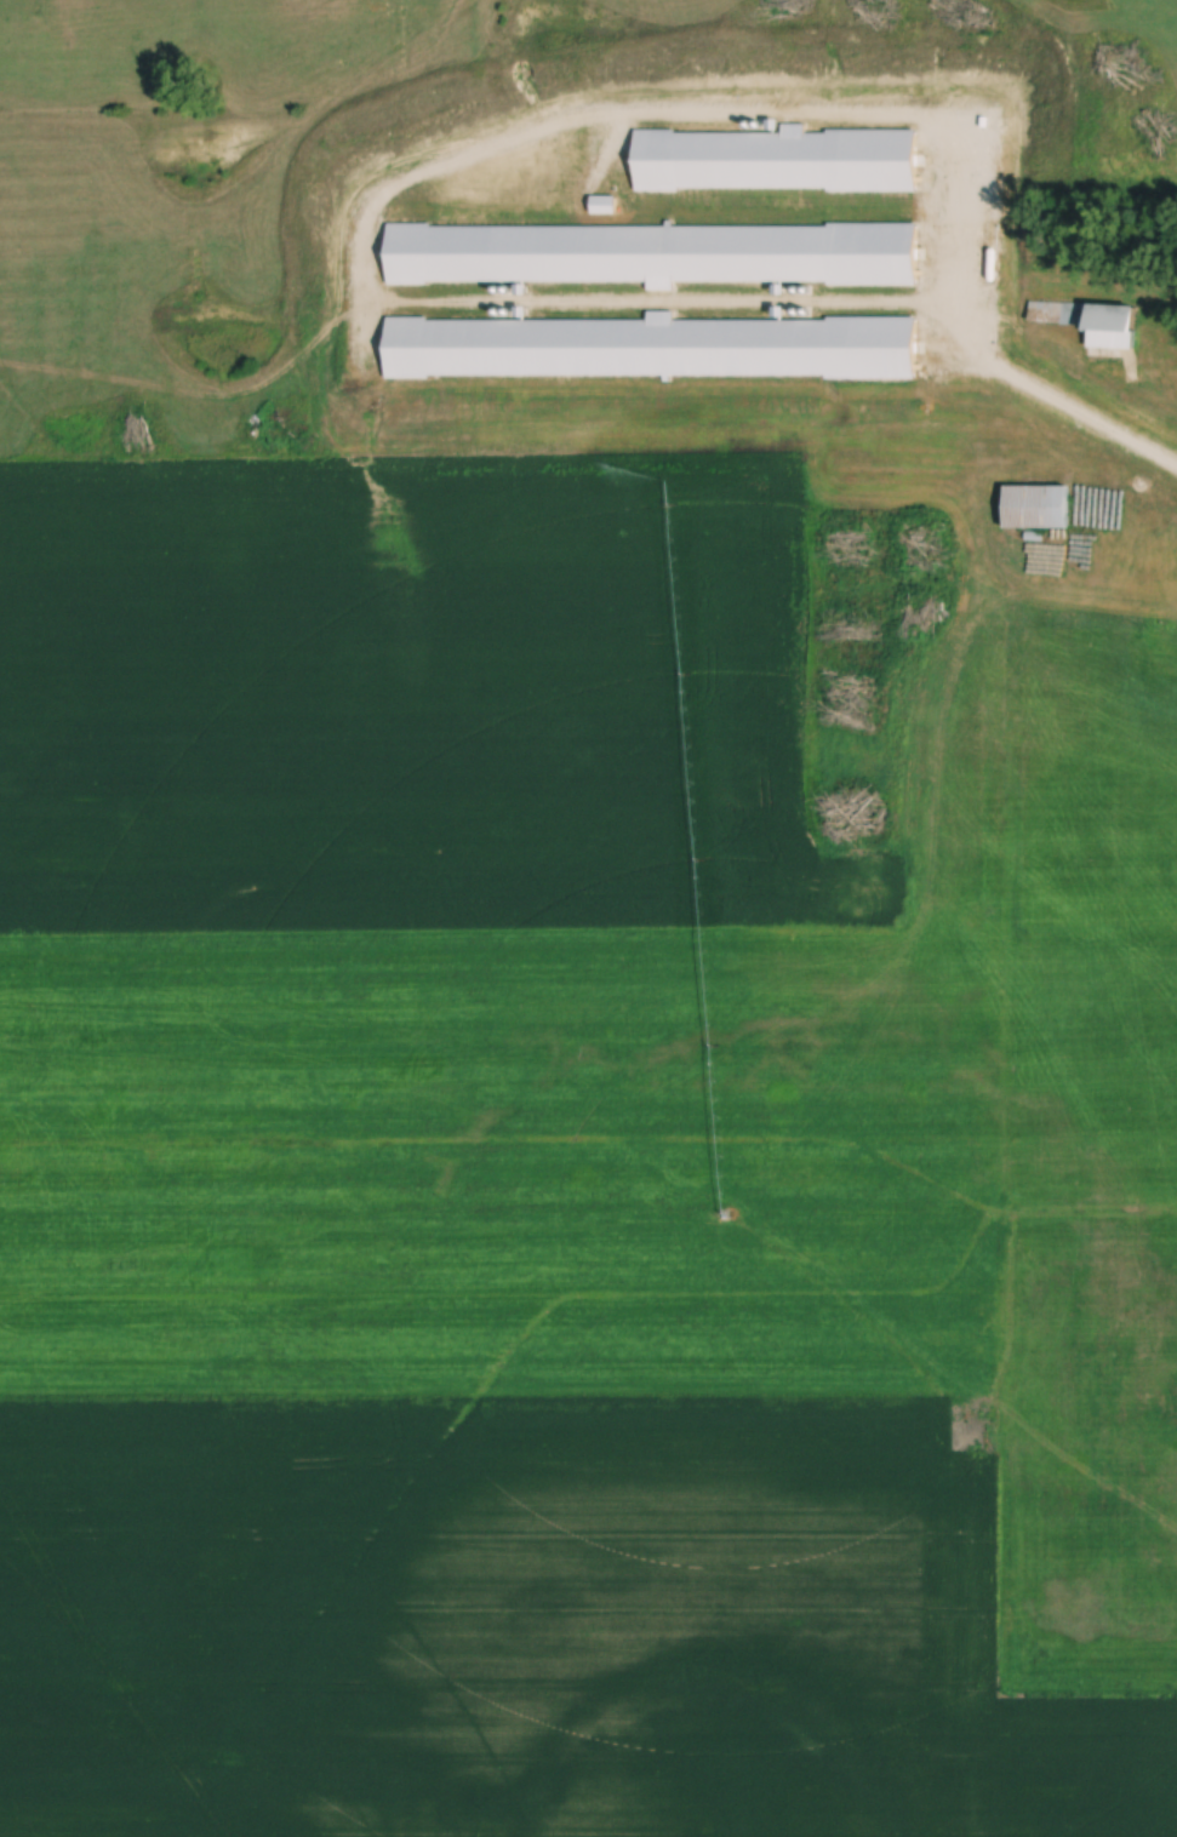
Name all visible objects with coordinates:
building: (1112, 320)
building: (1170, 364)
building: (1036, 508)

